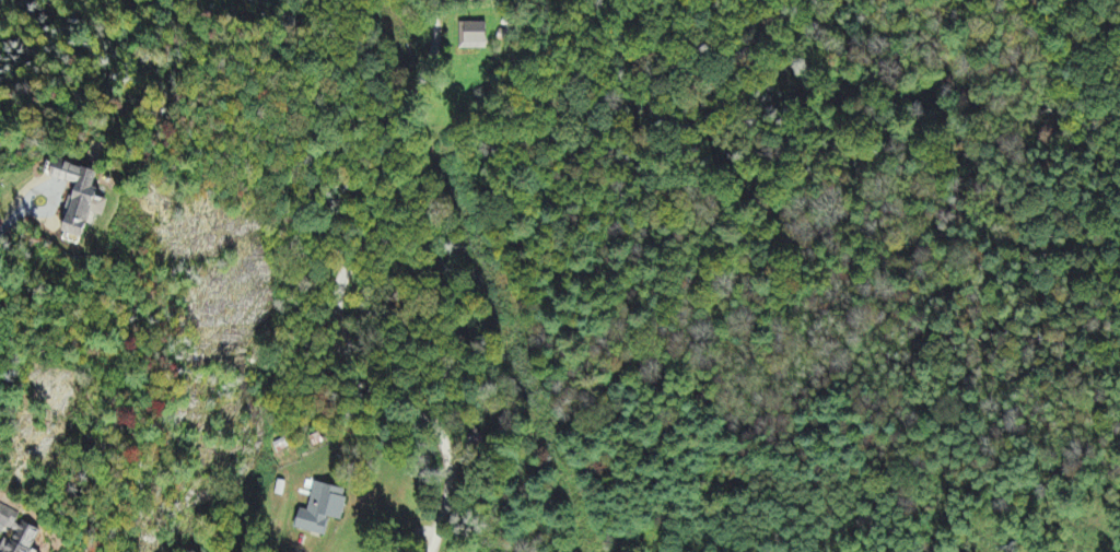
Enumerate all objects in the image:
building: (486, 1)
building: (474, 37)
building: (81, 199)
road: (338, 291)
building: (323, 512)
building: (17, 533)

